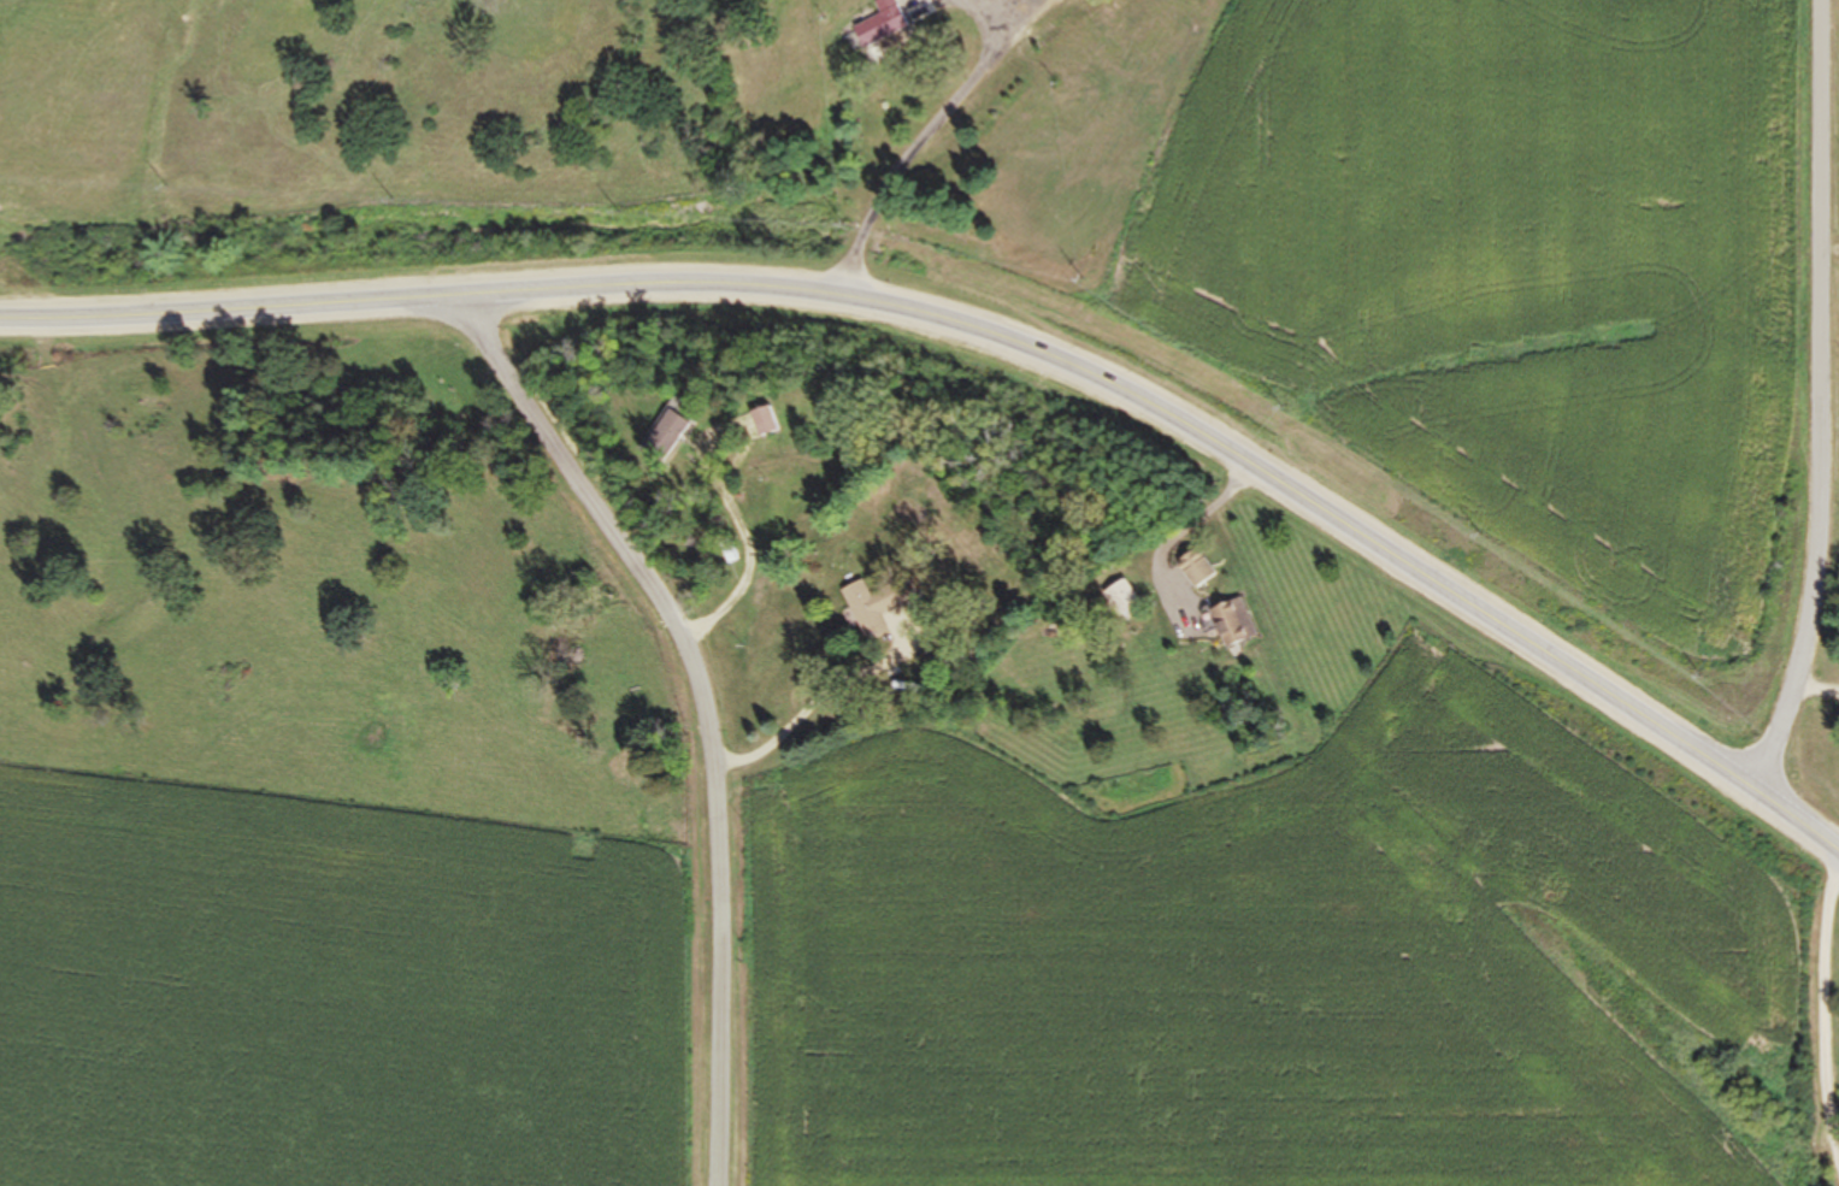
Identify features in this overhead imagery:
building: (882, 24)
road: (920, 138)
road: (230, 309)
park: (382, 390)
road: (1817, 401)
building: (765, 421)
road: (1198, 433)
building: (660, 437)
road: (725, 501)
road: (1168, 542)
building: (729, 553)
building: (1198, 568)
building: (1121, 600)
building: (871, 609)
building: (1234, 625)
road: (1815, 683)
road: (817, 704)
road: (703, 707)
road: (1828, 1010)

